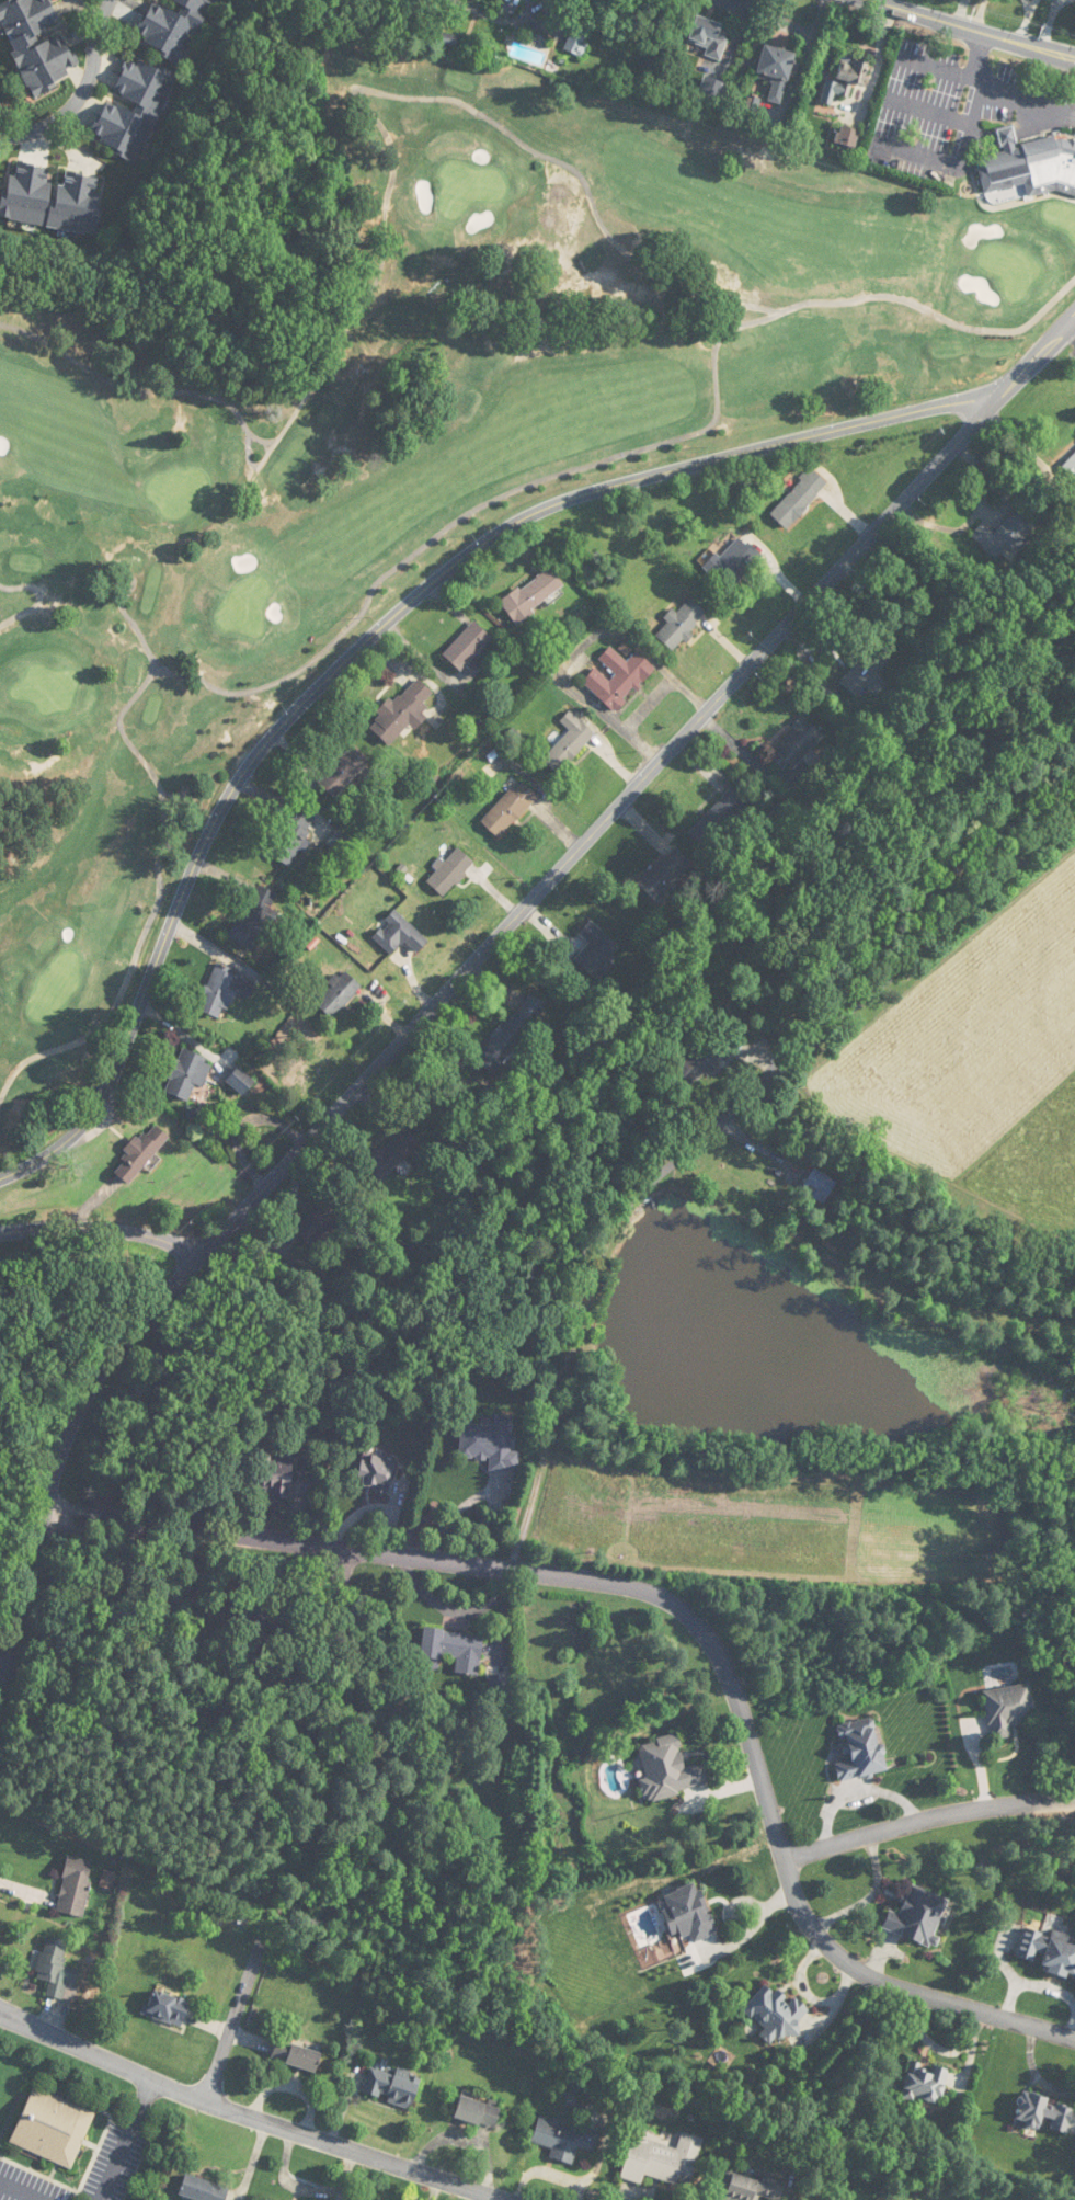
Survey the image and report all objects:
building: (512, 5)
building: (172, 25)
road: (974, 29)
building: (710, 36)
building: (577, 39)
building: (36, 43)
building: (776, 70)
road: (902, 71)
road: (975, 75)
road: (82, 93)
building: (134, 107)
road: (935, 110)
building: (847, 137)
building: (1030, 164)
building: (52, 198)
park: (449, 435)
building: (1071, 465)
building: (799, 498)
building: (1004, 535)
building: (732, 563)
building: (533, 594)
building: (682, 622)
road: (381, 629)
building: (468, 650)
building: (864, 671)
building: (619, 677)
building: (402, 711)
building: (569, 742)
building: (796, 745)
building: (342, 771)
building: (510, 809)
building: (730, 809)
building: (708, 827)
building: (291, 837)
building: (450, 870)
building: (664, 874)
building: (249, 926)
building: (399, 934)
building: (595, 949)
road: (477, 961)
building: (224, 990)
building: (339, 993)
building: (511, 1031)
crop: (982, 1052)
building: (706, 1053)
building: (187, 1073)
building: (240, 1081)
road: (702, 1138)
building: (140, 1152)
building: (392, 1154)
building: (819, 1186)
building: (316, 1223)
road: (101, 1232)
building: (490, 1443)
building: (376, 1472)
building: (276, 1474)
road: (279, 1542)
building: (450, 1650)
road: (1, 1671)
building: (1008, 1709)
building: (860, 1749)
building: (668, 1768)
road: (927, 1815)
road: (773, 1816)
building: (75, 1885)
building: (688, 1913)
building: (919, 1916)
building: (1048, 1950)
building: (53, 1965)
building: (165, 2007)
building: (775, 2013)
road: (236, 2016)
building: (296, 2055)
building: (926, 2083)
building: (392, 2086)
building: (478, 2112)
road: (249, 2113)
building: (1045, 2113)
building: (53, 2128)
road: (127, 2139)
building: (564, 2139)
building: (662, 2159)
building: (753, 2188)
building: (202, 2189)
road: (21, 2190)
building: (265, 2199)

